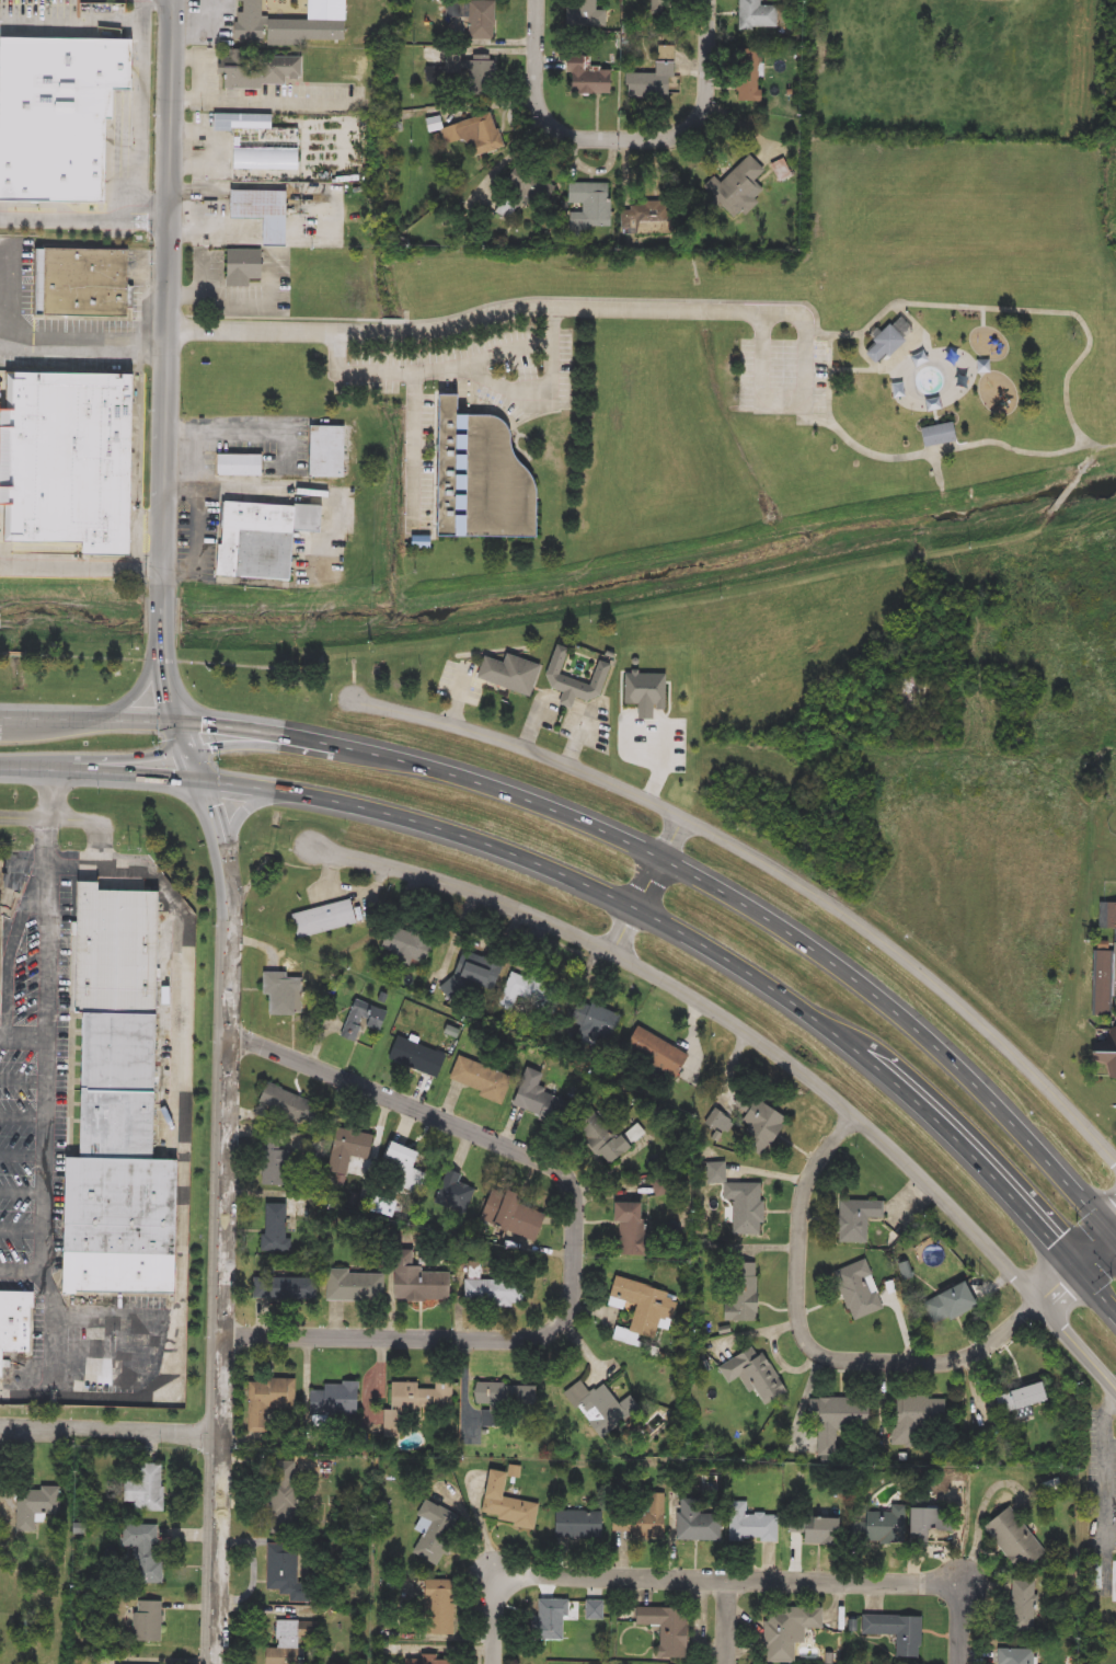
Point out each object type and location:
road: (141, 13)
building: (589, 14)
building: (758, 14)
building: (473, 18)
building: (290, 23)
road: (142, 51)
road: (204, 68)
building: (260, 70)
building: (469, 72)
building: (652, 73)
building: (748, 77)
building: (586, 78)
road: (260, 104)
building: (60, 116)
building: (474, 135)
road: (624, 137)
building: (256, 142)
building: (735, 188)
building: (520, 191)
building: (587, 206)
building: (260, 213)
building: (645, 218)
road: (85, 220)
building: (241, 267)
building: (85, 284)
road: (7, 287)
road: (220, 291)
road: (170, 296)
road: (624, 299)
road: (496, 312)
park: (958, 314)
road: (284, 318)
road: (396, 321)
road: (555, 322)
road: (826, 333)
road: (83, 341)
building: (883, 345)
road: (1090, 346)
road: (426, 372)
parking lot: (784, 376)
parking lot: (470, 377)
road: (531, 393)
road: (773, 400)
road: (255, 429)
building: (935, 435)
road: (414, 450)
building: (333, 451)
building: (69, 458)
road: (202, 459)
road: (1086, 461)
building: (245, 466)
building: (484, 478)
road: (226, 489)
road: (1068, 492)
road: (340, 515)
road: (1045, 521)
building: (269, 539)
road: (202, 547)
road: (81, 569)
road: (649, 611)
road: (165, 617)
road: (2, 653)
road: (20, 654)
road: (90, 657)
road: (162, 661)
road: (356, 664)
building: (508, 675)
road: (356, 676)
building: (573, 681)
parking lot: (461, 686)
road: (356, 688)
road: (140, 690)
road: (461, 692)
building: (643, 693)
road: (567, 701)
road: (647, 713)
traffic signals: (179, 719)
road: (536, 724)
parking lot: (580, 726)
road: (578, 739)
parking lot: (663, 744)
road: (630, 755)
road: (666, 760)
traffic signals: (199, 776)
road: (246, 811)
road: (68, 819)
road: (621, 836)
road: (772, 859)
road: (648, 882)
road: (622, 898)
building: (323, 918)
building: (405, 944)
building: (1, 945)
road: (15, 949)
building: (124, 952)
building: (1105, 966)
building: (468, 978)
building: (281, 994)
building: (529, 995)
road: (716, 1012)
building: (360, 1020)
building: (594, 1022)
road: (23, 1038)
road: (48, 1042)
building: (654, 1052)
building: (126, 1053)
building: (415, 1057)
building: (1112, 1060)
road: (24, 1077)
building: (480, 1079)
building: (534, 1098)
building: (289, 1106)
road: (23, 1113)
building: (125, 1126)
building: (758, 1127)
building: (635, 1133)
building: (602, 1141)
road: (225, 1148)
road: (23, 1154)
road: (188, 1155)
building: (346, 1155)
parking lot: (55, 1157)
building: (275, 1164)
building: (406, 1168)
road: (22, 1192)
building: (453, 1192)
building: (739, 1202)
building: (511, 1215)
building: (858, 1218)
building: (127, 1227)
building: (276, 1228)
road: (22, 1229)
building: (626, 1229)
road: (576, 1236)
traffic signals: (1084, 1269)
road: (1079, 1272)
building: (417, 1279)
building: (740, 1284)
building: (355, 1286)
building: (284, 1288)
building: (858, 1290)
building: (494, 1292)
building: (947, 1302)
building: (641, 1306)
building: (19, 1322)
road: (57, 1333)
road: (152, 1339)
road: (814, 1340)
road: (1079, 1343)
building: (752, 1376)
building: (1017, 1398)
building: (267, 1399)
building: (334, 1399)
building: (502, 1400)
building: (413, 1402)
building: (600, 1408)
building: (916, 1418)
building: (835, 1421)
road: (110, 1431)
road: (1107, 1467)
building: (148, 1488)
building: (281, 1496)
building: (504, 1503)
building: (34, 1505)
building: (647, 1518)
building: (931, 1520)
building: (577, 1524)
building: (750, 1524)
building: (699, 1526)
building: (879, 1526)
building: (814, 1529)
building: (432, 1530)
building: (1013, 1538)
building: (142, 1551)
building: (284, 1571)
road: (758, 1581)
building: (1112, 1581)
road: (498, 1603)
building: (1024, 1606)
building: (435, 1607)
building: (594, 1609)
building: (550, 1619)
building: (145, 1620)
road: (729, 1622)
building: (665, 1628)
building: (786, 1630)
building: (896, 1631)
road: (962, 1633)
building: (289, 1641)
building: (1020, 1655)
building: (429, 1659)
road: (479, 1660)

